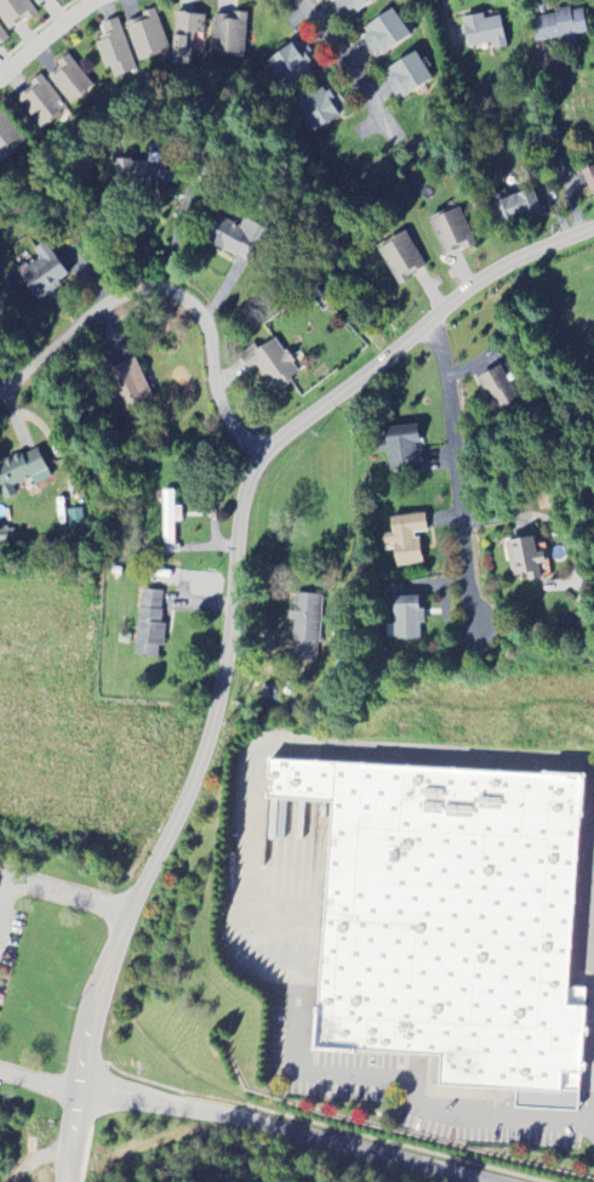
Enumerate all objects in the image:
building: (39, 2)
building: (352, 6)
building: (15, 12)
building: (559, 27)
road: (35, 32)
building: (484, 32)
building: (383, 34)
building: (228, 35)
building: (145, 36)
building: (185, 36)
building: (1, 38)
building: (114, 49)
road: (338, 50)
building: (292, 63)
building: (406, 75)
building: (69, 81)
building: (41, 103)
building: (321, 108)
building: (8, 140)
building: (149, 176)
building: (589, 178)
building: (516, 208)
building: (451, 232)
building: (235, 238)
building: (401, 258)
building: (42, 273)
road: (166, 299)
building: (270, 364)
building: (593, 375)
building: (128, 385)
building: (498, 392)
building: (401, 450)
building: (21, 472)
road: (455, 523)
building: (406, 540)
building: (522, 559)
building: (164, 579)
building: (407, 619)
building: (149, 625)
road: (225, 627)
building: (304, 627)
road: (295, 744)
road: (593, 779)
road: (592, 828)
road: (590, 873)
road: (587, 874)
road: (5, 877)
road: (68, 897)
road: (589, 915)
building: (446, 920)
road: (316, 1072)
road: (36, 1082)
road: (413, 1090)
road: (496, 1110)
road: (587, 1119)
road: (301, 1132)

